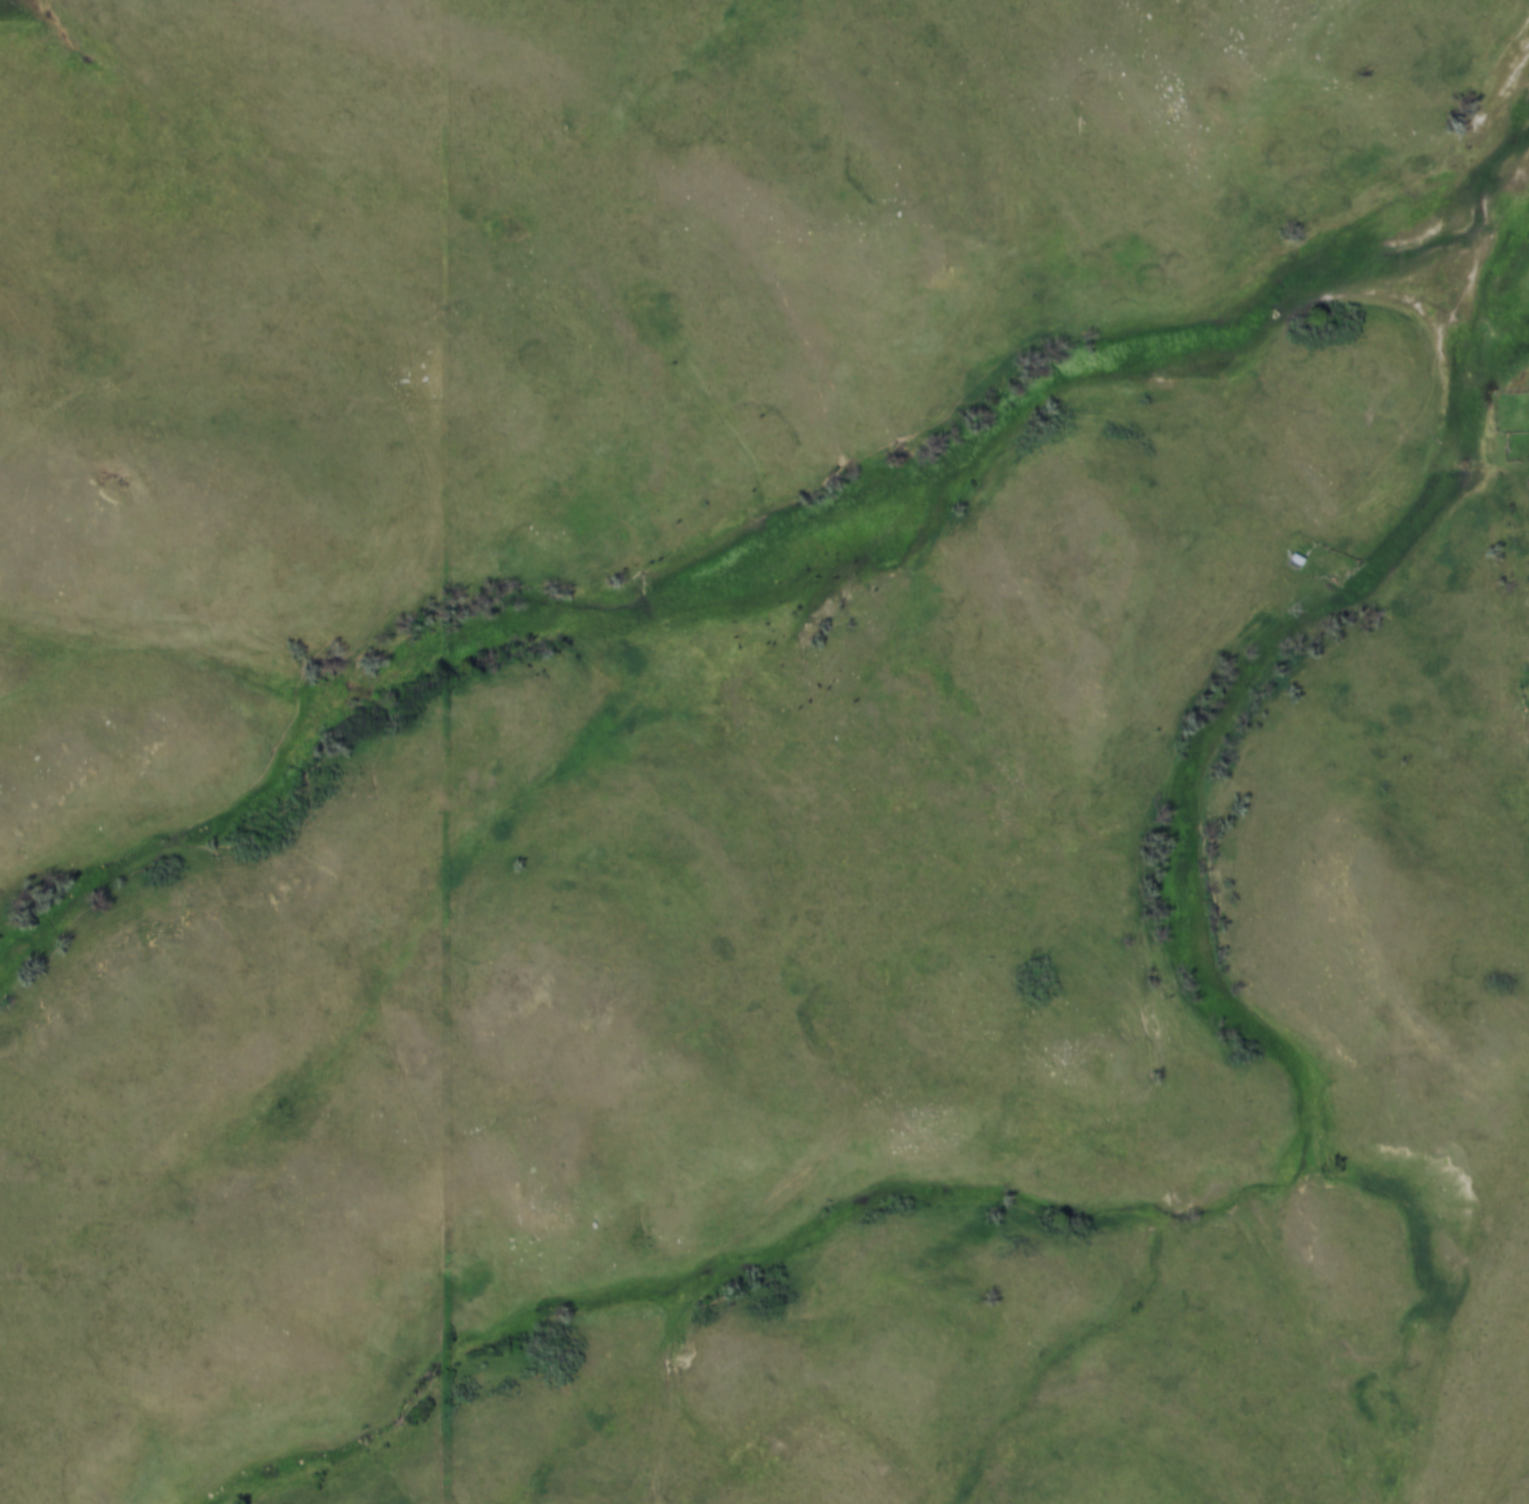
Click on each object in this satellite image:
building: (1293, 561)
road: (1450, 1328)

